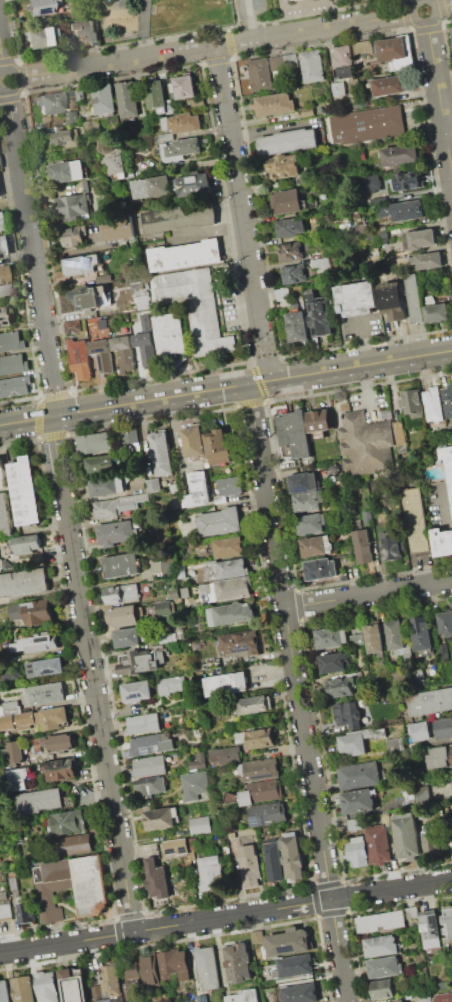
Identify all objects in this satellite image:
building: (284, 0)
road: (443, 6)
building: (40, 7)
parking lot: (247, 11)
park: (186, 15)
road: (250, 19)
road: (423, 22)
building: (86, 29)
building: (450, 33)
road: (179, 36)
building: (39, 38)
road: (142, 40)
building: (70, 42)
road: (214, 46)
building: (363, 47)
building: (396, 52)
road: (1, 60)
building: (291, 61)
building: (342, 62)
road: (8, 63)
building: (277, 63)
building: (312, 66)
building: (260, 75)
road: (20, 78)
road: (15, 81)
building: (388, 85)
building: (185, 87)
building: (338, 88)
building: (71, 92)
road: (11, 95)
building: (156, 96)
road: (439, 98)
building: (104, 99)
building: (128, 99)
building: (51, 103)
building: (275, 104)
building: (357, 105)
building: (306, 111)
building: (184, 125)
building: (368, 125)
building: (90, 127)
road: (448, 131)
building: (167, 137)
building: (61, 138)
building: (288, 141)
building: (181, 148)
building: (359, 155)
building: (401, 155)
building: (115, 161)
building: (283, 167)
building: (67, 172)
building: (410, 180)
building: (371, 183)
building: (195, 185)
building: (152, 187)
road: (240, 199)
building: (287, 201)
building: (73, 207)
building: (403, 210)
building: (180, 217)
building: (291, 226)
building: (119, 227)
building: (0, 229)
building: (73, 235)
road: (31, 238)
building: (422, 238)
building: (1, 246)
building: (290, 252)
building: (185, 256)
building: (430, 260)
building: (320, 262)
building: (81, 265)
building: (3, 274)
building: (294, 274)
building: (4, 291)
building: (282, 294)
building: (96, 298)
building: (356, 299)
building: (415, 299)
building: (393, 301)
building: (142, 302)
building: (197, 308)
building: (437, 312)
building: (5, 315)
building: (319, 315)
building: (146, 322)
building: (73, 326)
building: (297, 326)
building: (170, 334)
building: (11, 341)
road: (364, 343)
building: (145, 348)
building: (124, 352)
building: (102, 355)
building: (80, 360)
building: (13, 364)
road: (268, 366)
building: (15, 386)
road: (225, 387)
building: (448, 400)
road: (55, 401)
building: (413, 403)
building: (433, 404)
building: (319, 421)
building: (449, 429)
building: (294, 432)
road: (176, 433)
building: (398, 435)
building: (130, 436)
building: (193, 442)
building: (96, 443)
building: (366, 446)
building: (218, 448)
building: (161, 454)
building: (447, 457)
building: (101, 465)
building: (2, 475)
building: (301, 483)
building: (153, 485)
building: (104, 486)
building: (230, 486)
building: (173, 488)
building: (24, 491)
building: (200, 491)
building: (132, 501)
building: (307, 501)
building: (106, 508)
building: (4, 516)
building: (416, 519)
building: (219, 521)
building: (311, 524)
building: (115, 533)
building: (443, 543)
building: (25, 544)
building: (316, 546)
building: (363, 546)
building: (390, 546)
building: (228, 547)
building: (168, 564)
building: (1, 565)
building: (121, 565)
building: (224, 569)
building: (321, 569)
building: (181, 572)
building: (23, 582)
building: (232, 588)
building: (185, 592)
building: (121, 593)
building: (174, 594)
road: (368, 594)
building: (163, 608)
building: (33, 611)
building: (232, 614)
building: (123, 616)
building: (446, 623)
building: (422, 633)
building: (180, 634)
building: (128, 637)
building: (331, 637)
building: (165, 638)
building: (374, 638)
building: (359, 640)
building: (398, 640)
building: (36, 643)
building: (239, 643)
building: (198, 645)
building: (444, 651)
building: (141, 661)
building: (335, 662)
building: (214, 663)
building: (46, 667)
road: (92, 674)
building: (171, 684)
building: (226, 684)
building: (341, 686)
building: (137, 690)
road: (297, 692)
building: (44, 694)
building: (430, 701)
building: (253, 704)
building: (12, 707)
building: (352, 715)
building: (53, 717)
building: (18, 721)
building: (143, 723)
building: (443, 728)
building: (421, 731)
building: (241, 737)
building: (261, 737)
building: (360, 739)
building: (61, 742)
building: (395, 742)
building: (151, 744)
building: (16, 751)
building: (226, 756)
building: (440, 757)
building: (199, 761)
building: (150, 766)
building: (60, 769)
building: (259, 769)
building: (359, 775)
building: (19, 779)
building: (195, 785)
building: (151, 786)
building: (256, 793)
building: (423, 795)
building: (44, 801)
building: (357, 802)
building: (268, 814)
building: (160, 818)
building: (386, 818)
building: (68, 822)
building: (354, 824)
building: (451, 824)
building: (200, 825)
building: (232, 835)
building: (407, 835)
building: (378, 844)
building: (432, 844)
building: (75, 845)
building: (233, 845)
building: (176, 846)
building: (359, 851)
building: (292, 856)
building: (273, 860)
building: (250, 866)
building: (13, 871)
building: (211, 873)
building: (3, 878)
building: (156, 879)
building: (14, 883)
building: (71, 885)
road: (411, 886)
road: (350, 895)
building: (5, 911)
building: (26, 911)
building: (412, 912)
building: (380, 921)
road: (165, 926)
building: (431, 928)
building: (451, 930)
building: (258, 937)
building: (289, 941)
building: (381, 945)
building: (238, 962)
building: (173, 964)
building: (294, 966)
building: (386, 966)
building: (207, 967)
building: (149, 968)
building: (133, 980)
building: (111, 981)
building: (445, 984)
building: (74, 985)
building: (46, 987)
building: (383, 988)
building: (22, 989)
building: (4, 991)
building: (300, 993)
building: (245, 996)
building: (425, 997)
building: (443, 997)
building: (203, 998)
building: (399, 1000)

